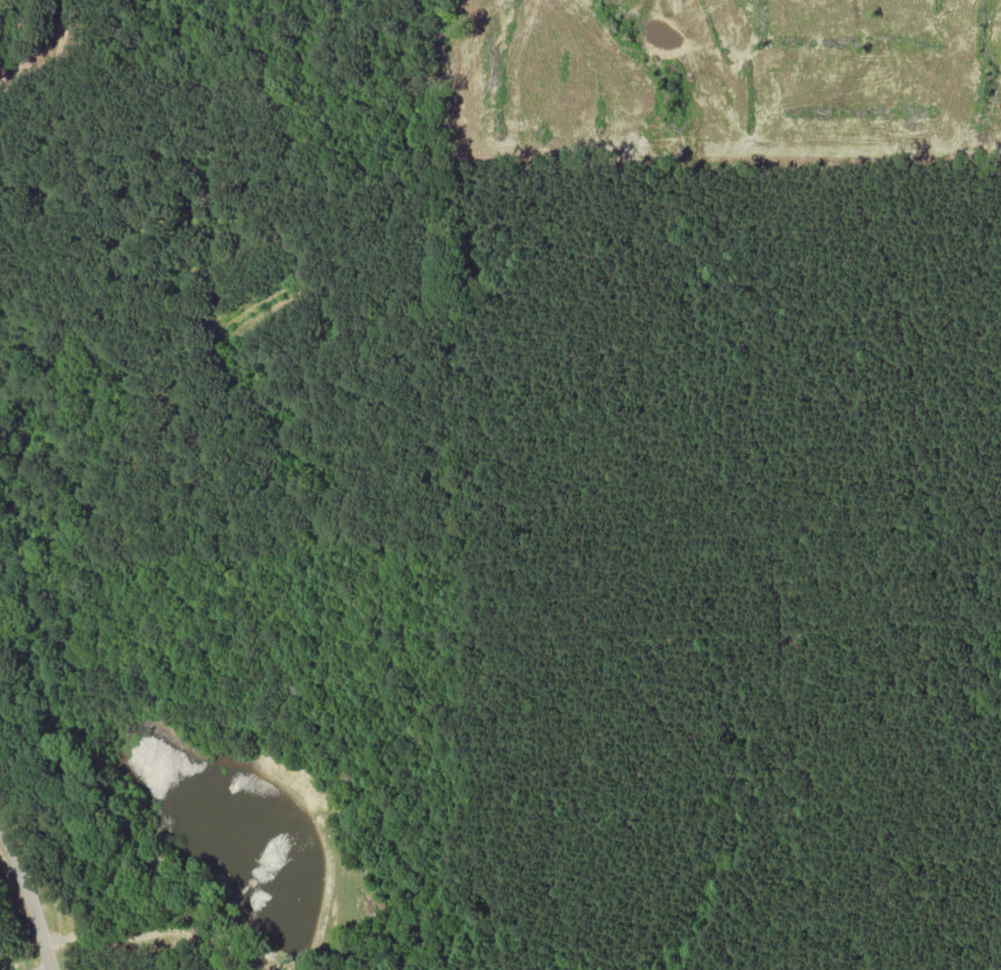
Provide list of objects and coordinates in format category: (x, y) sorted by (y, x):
road: (23, 898)
building: (221, 932)

